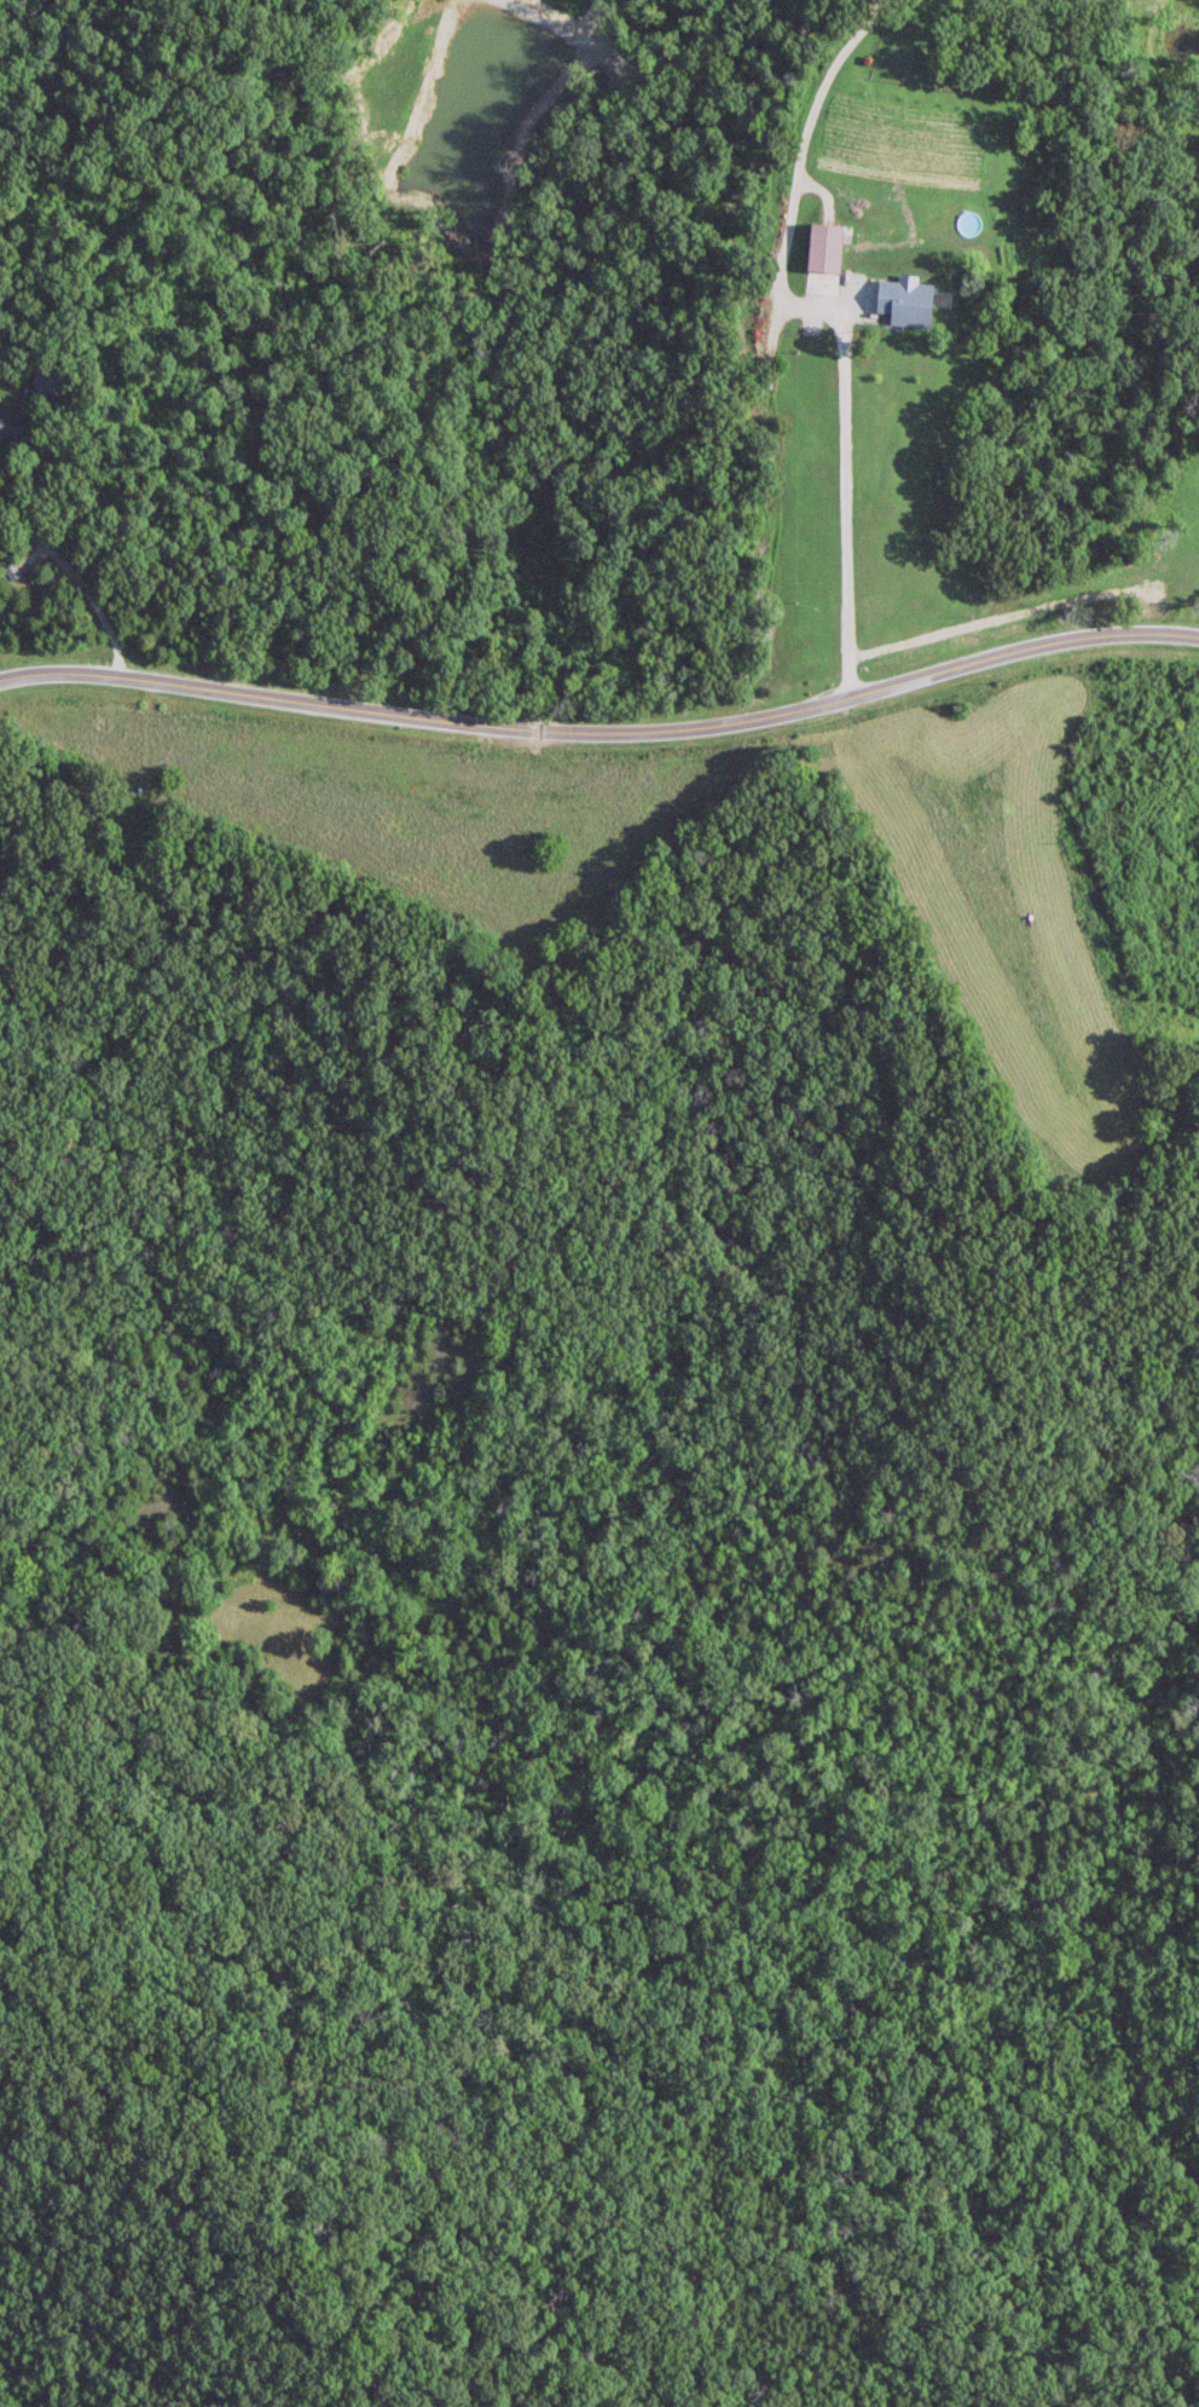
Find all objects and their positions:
building: (827, 247)
road: (835, 313)
building: (53, 380)
building: (12, 425)
road: (64, 564)
building: (881, 596)
road: (602, 726)

